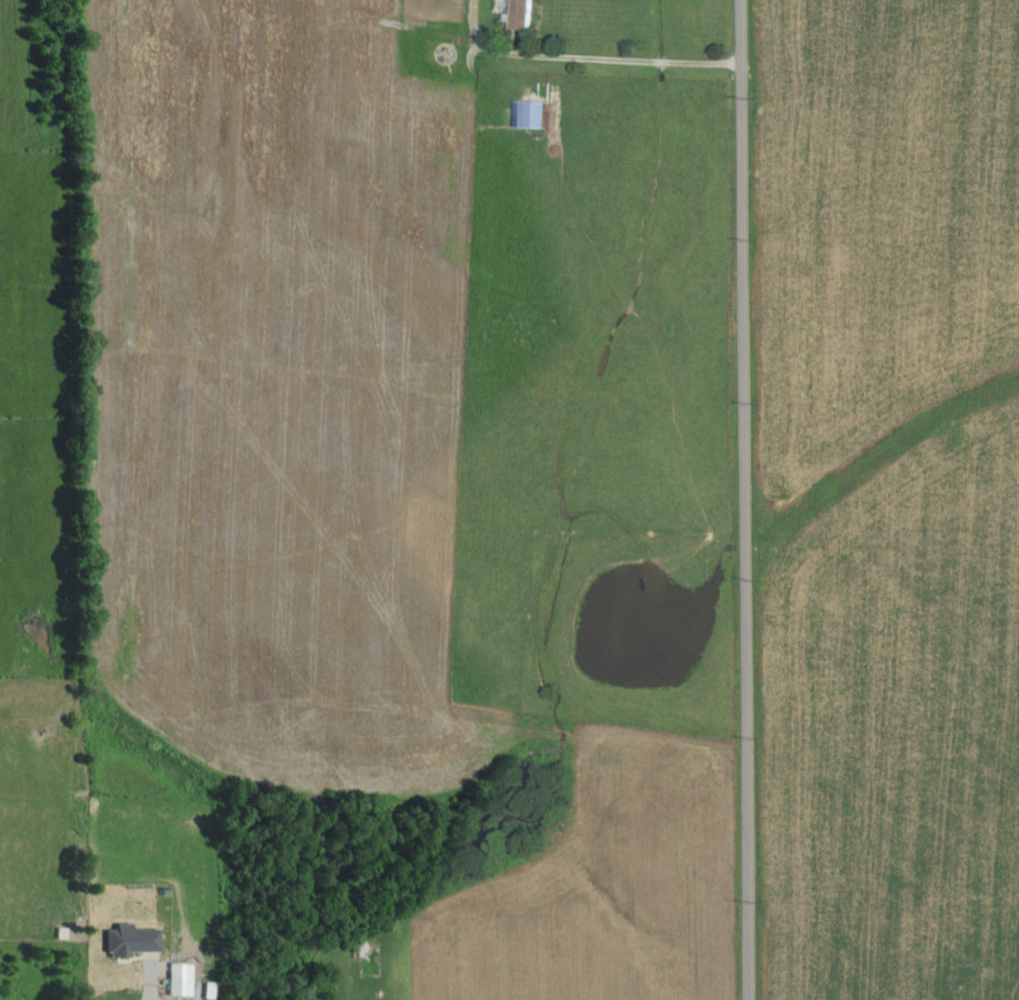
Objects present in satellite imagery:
building: (520, 14)
building: (529, 113)
road: (721, 500)
building: (128, 938)
building: (177, 977)
road: (149, 991)

